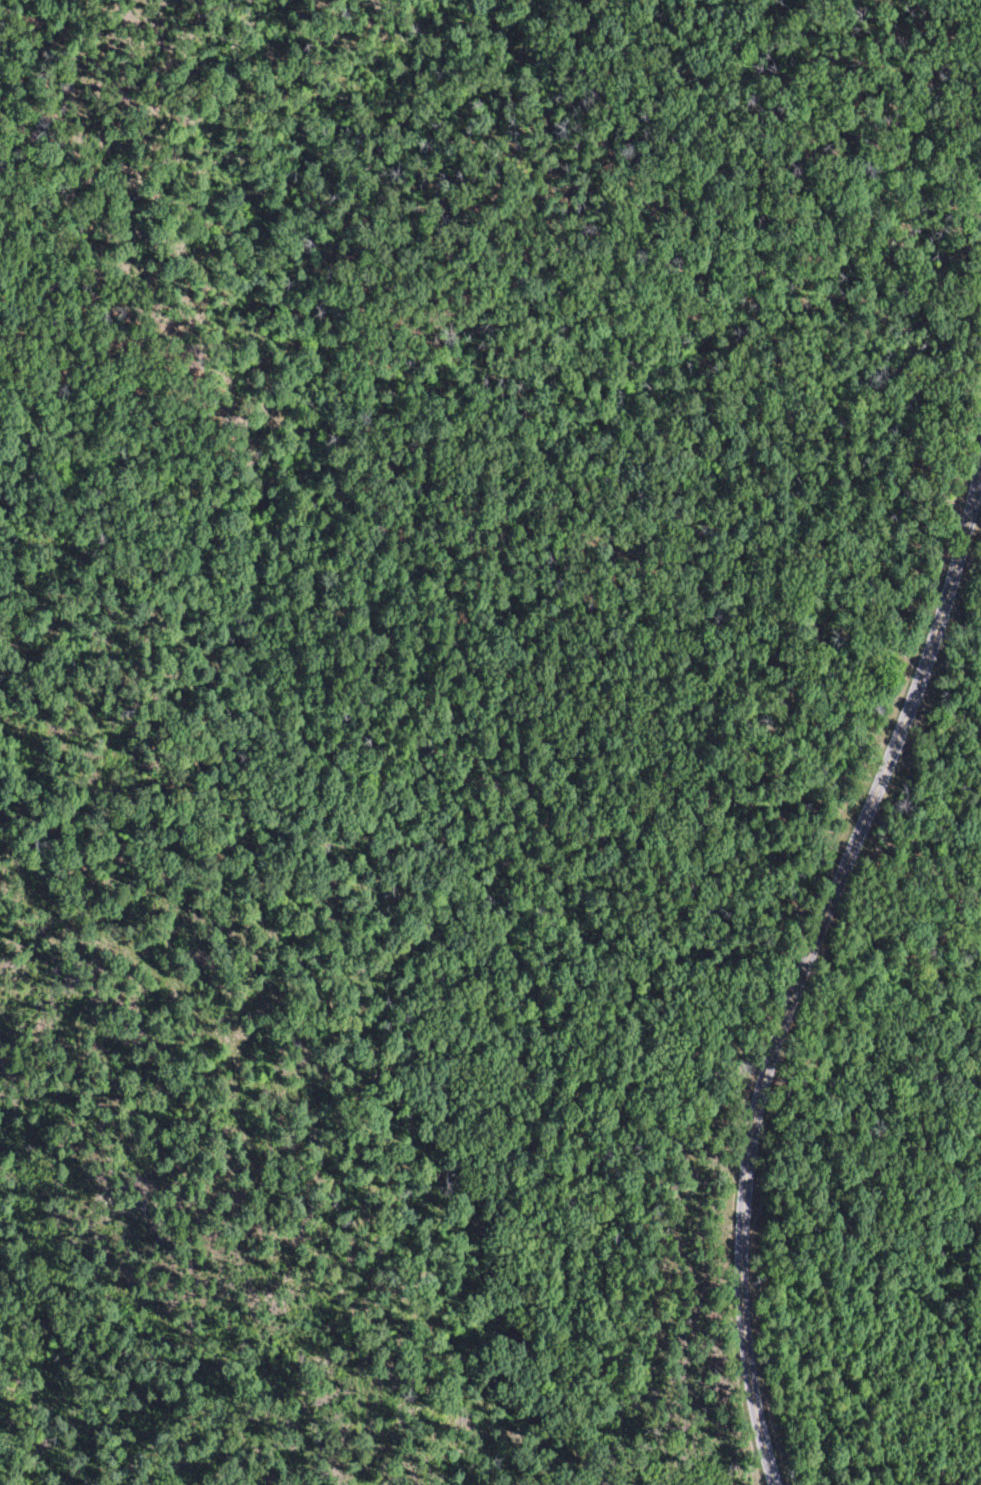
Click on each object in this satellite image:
road: (797, 963)

